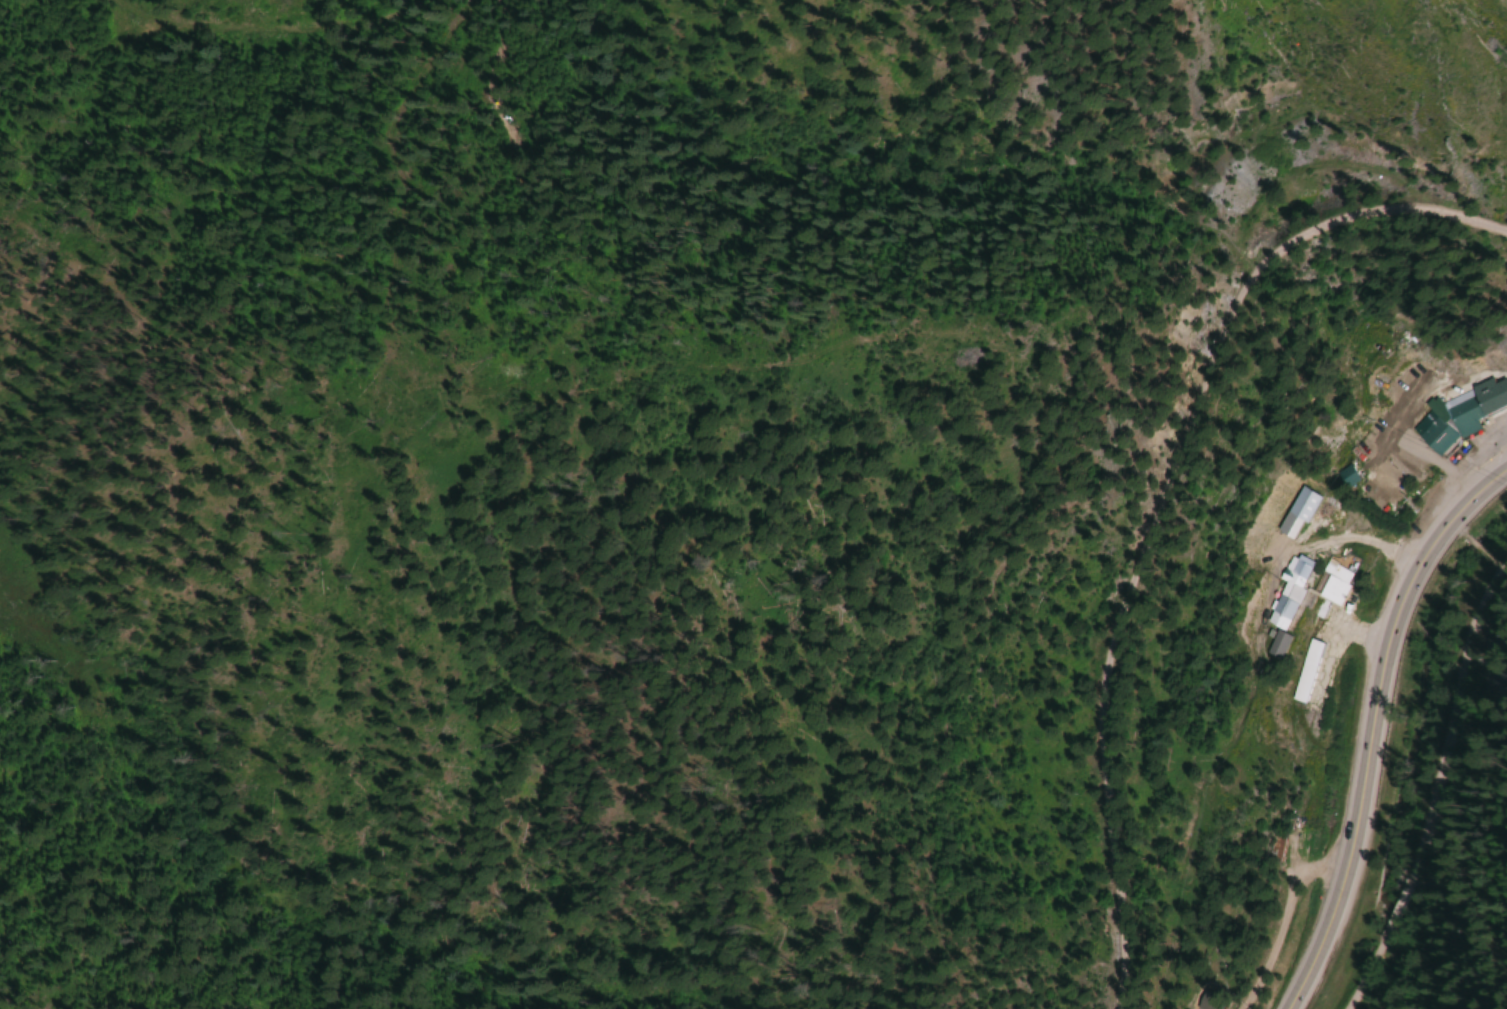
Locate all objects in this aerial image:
building: (1460, 417)
road: (1501, 430)
parking lot: (1492, 433)
building: (1385, 468)
road: (1155, 493)
building: (1293, 513)
building: (1331, 583)
building: (1283, 602)
building: (1304, 670)
road: (1374, 726)
road: (1436, 786)
building: (1271, 847)

